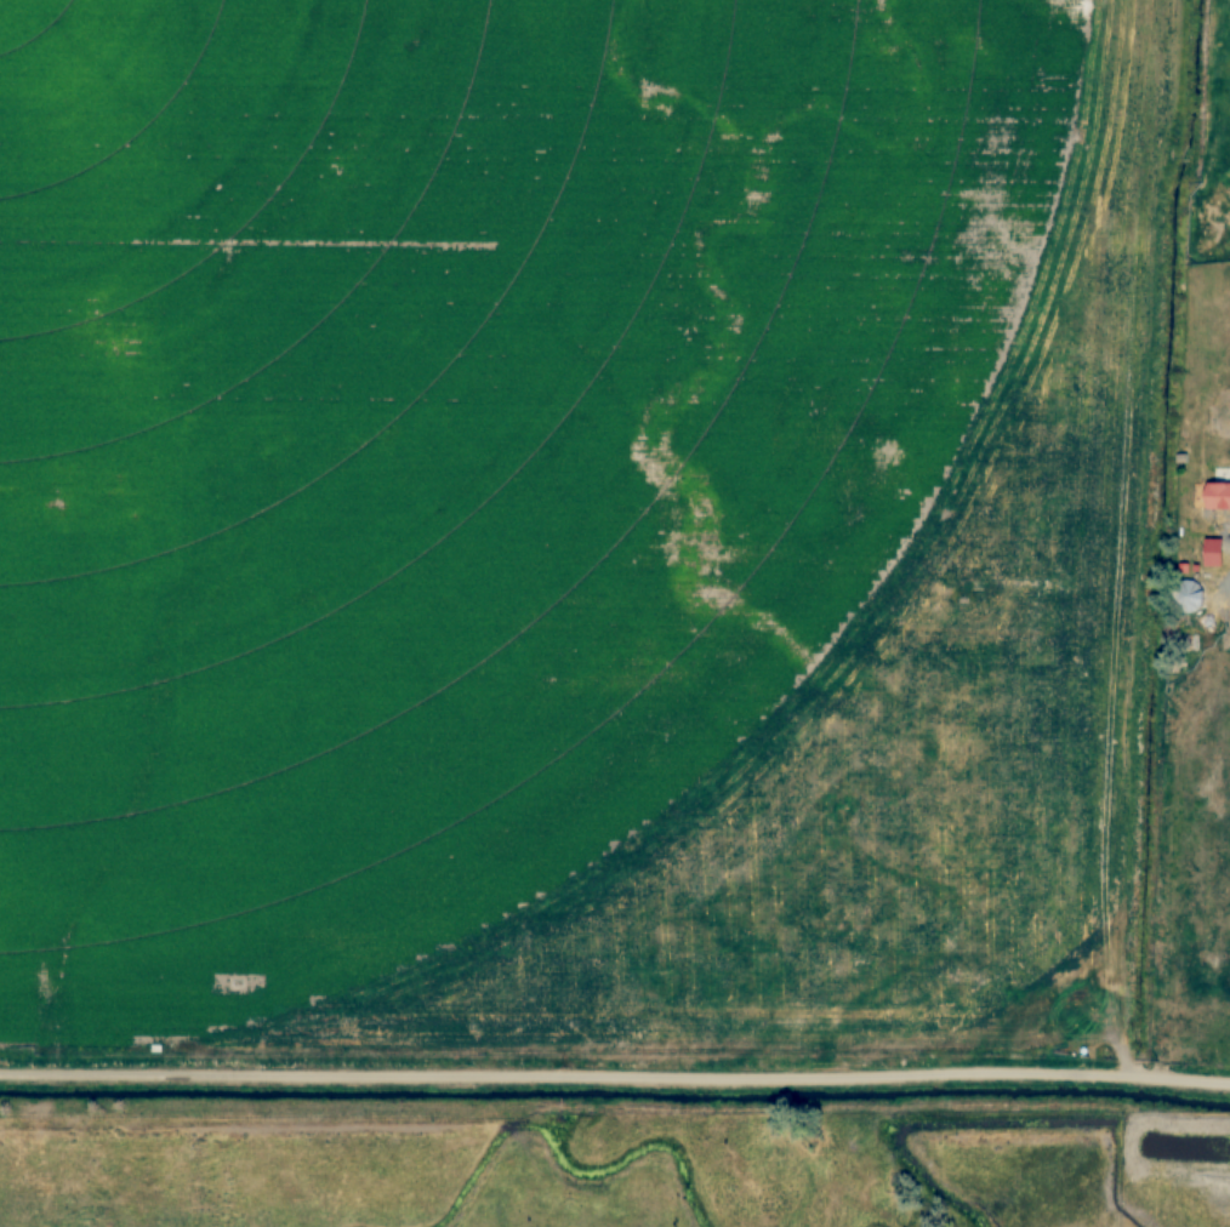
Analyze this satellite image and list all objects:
building: (1217, 496)
building: (1213, 553)
building: (1186, 597)

